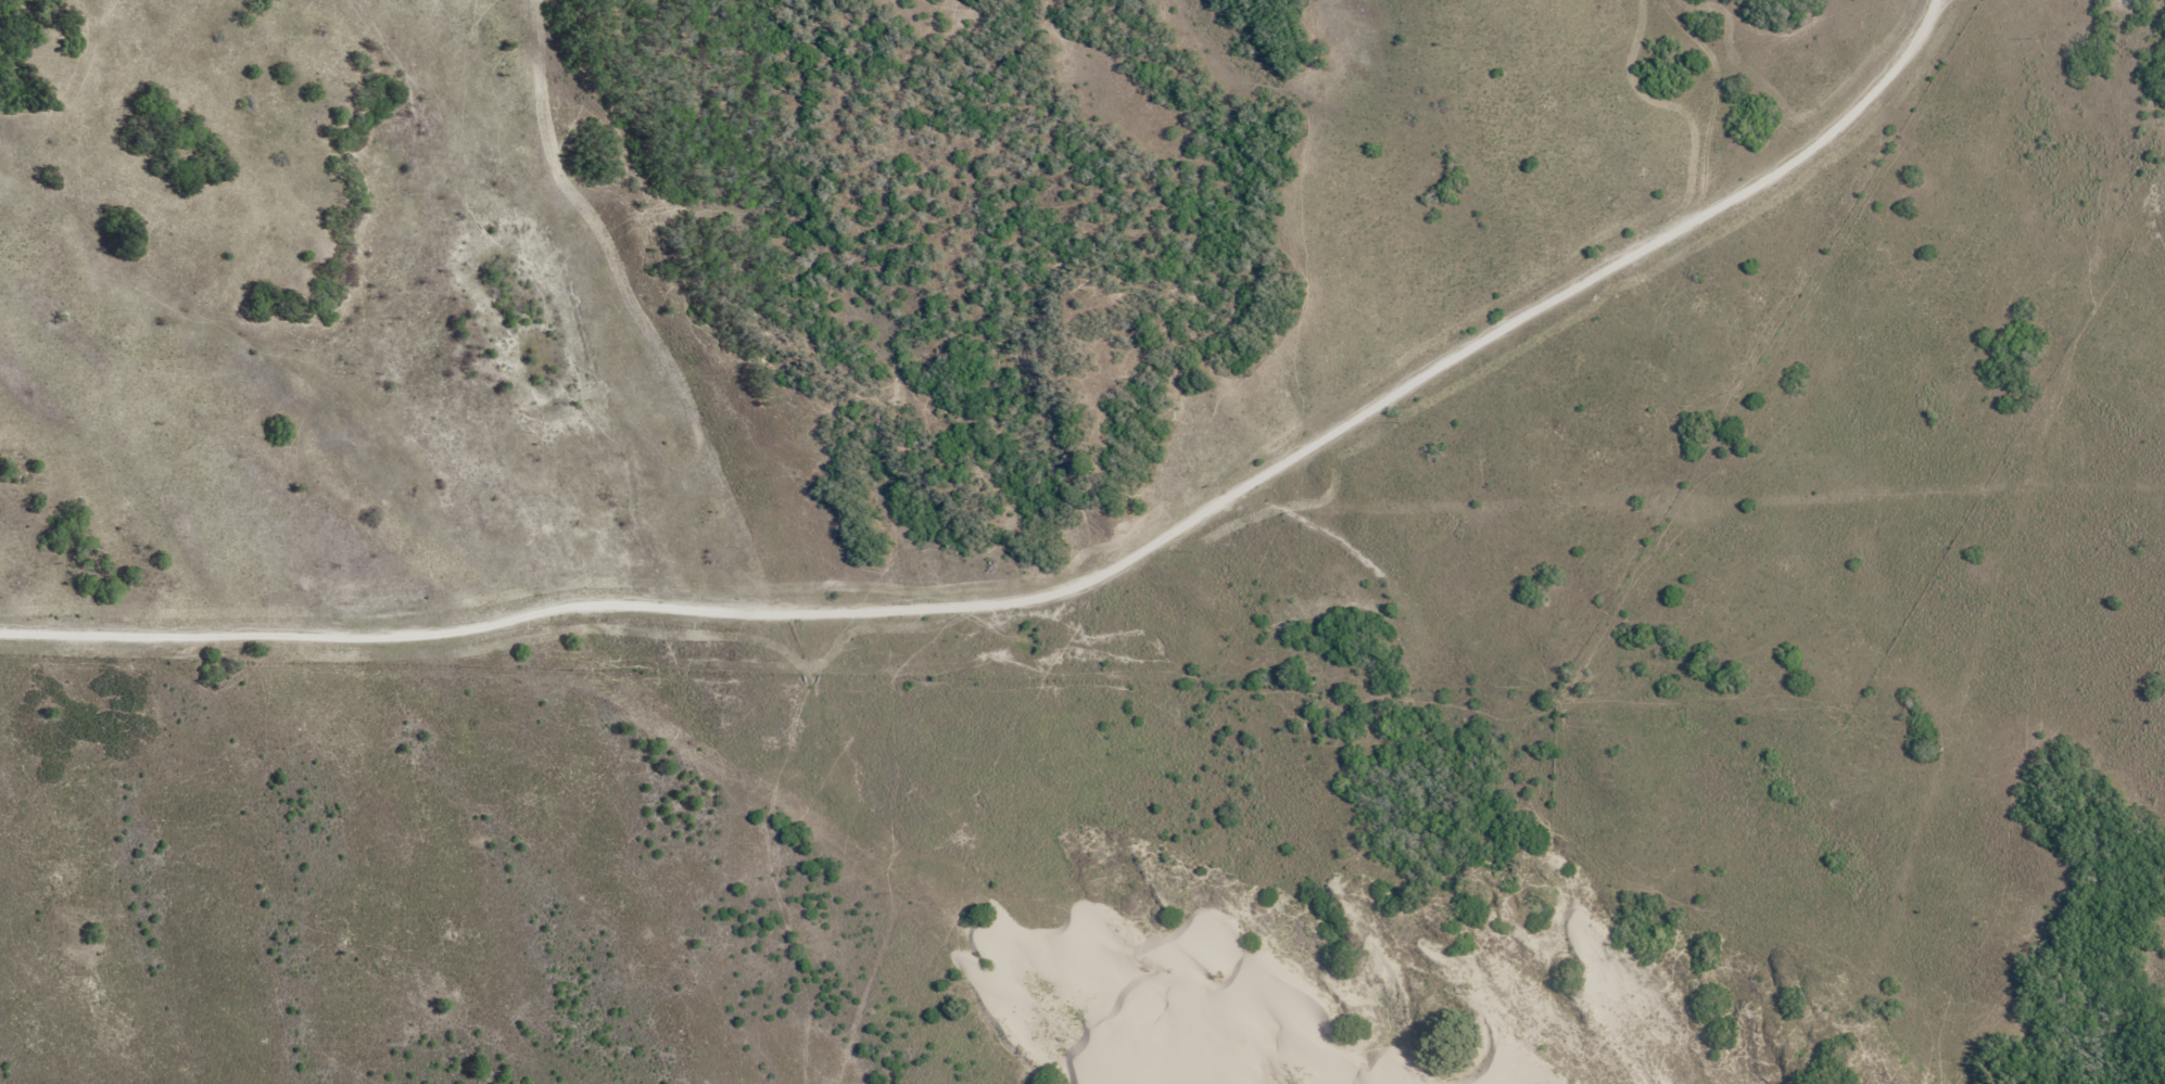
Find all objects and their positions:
road: (2139, 50)
road: (2103, 69)
road: (1059, 561)
road: (2020, 609)

